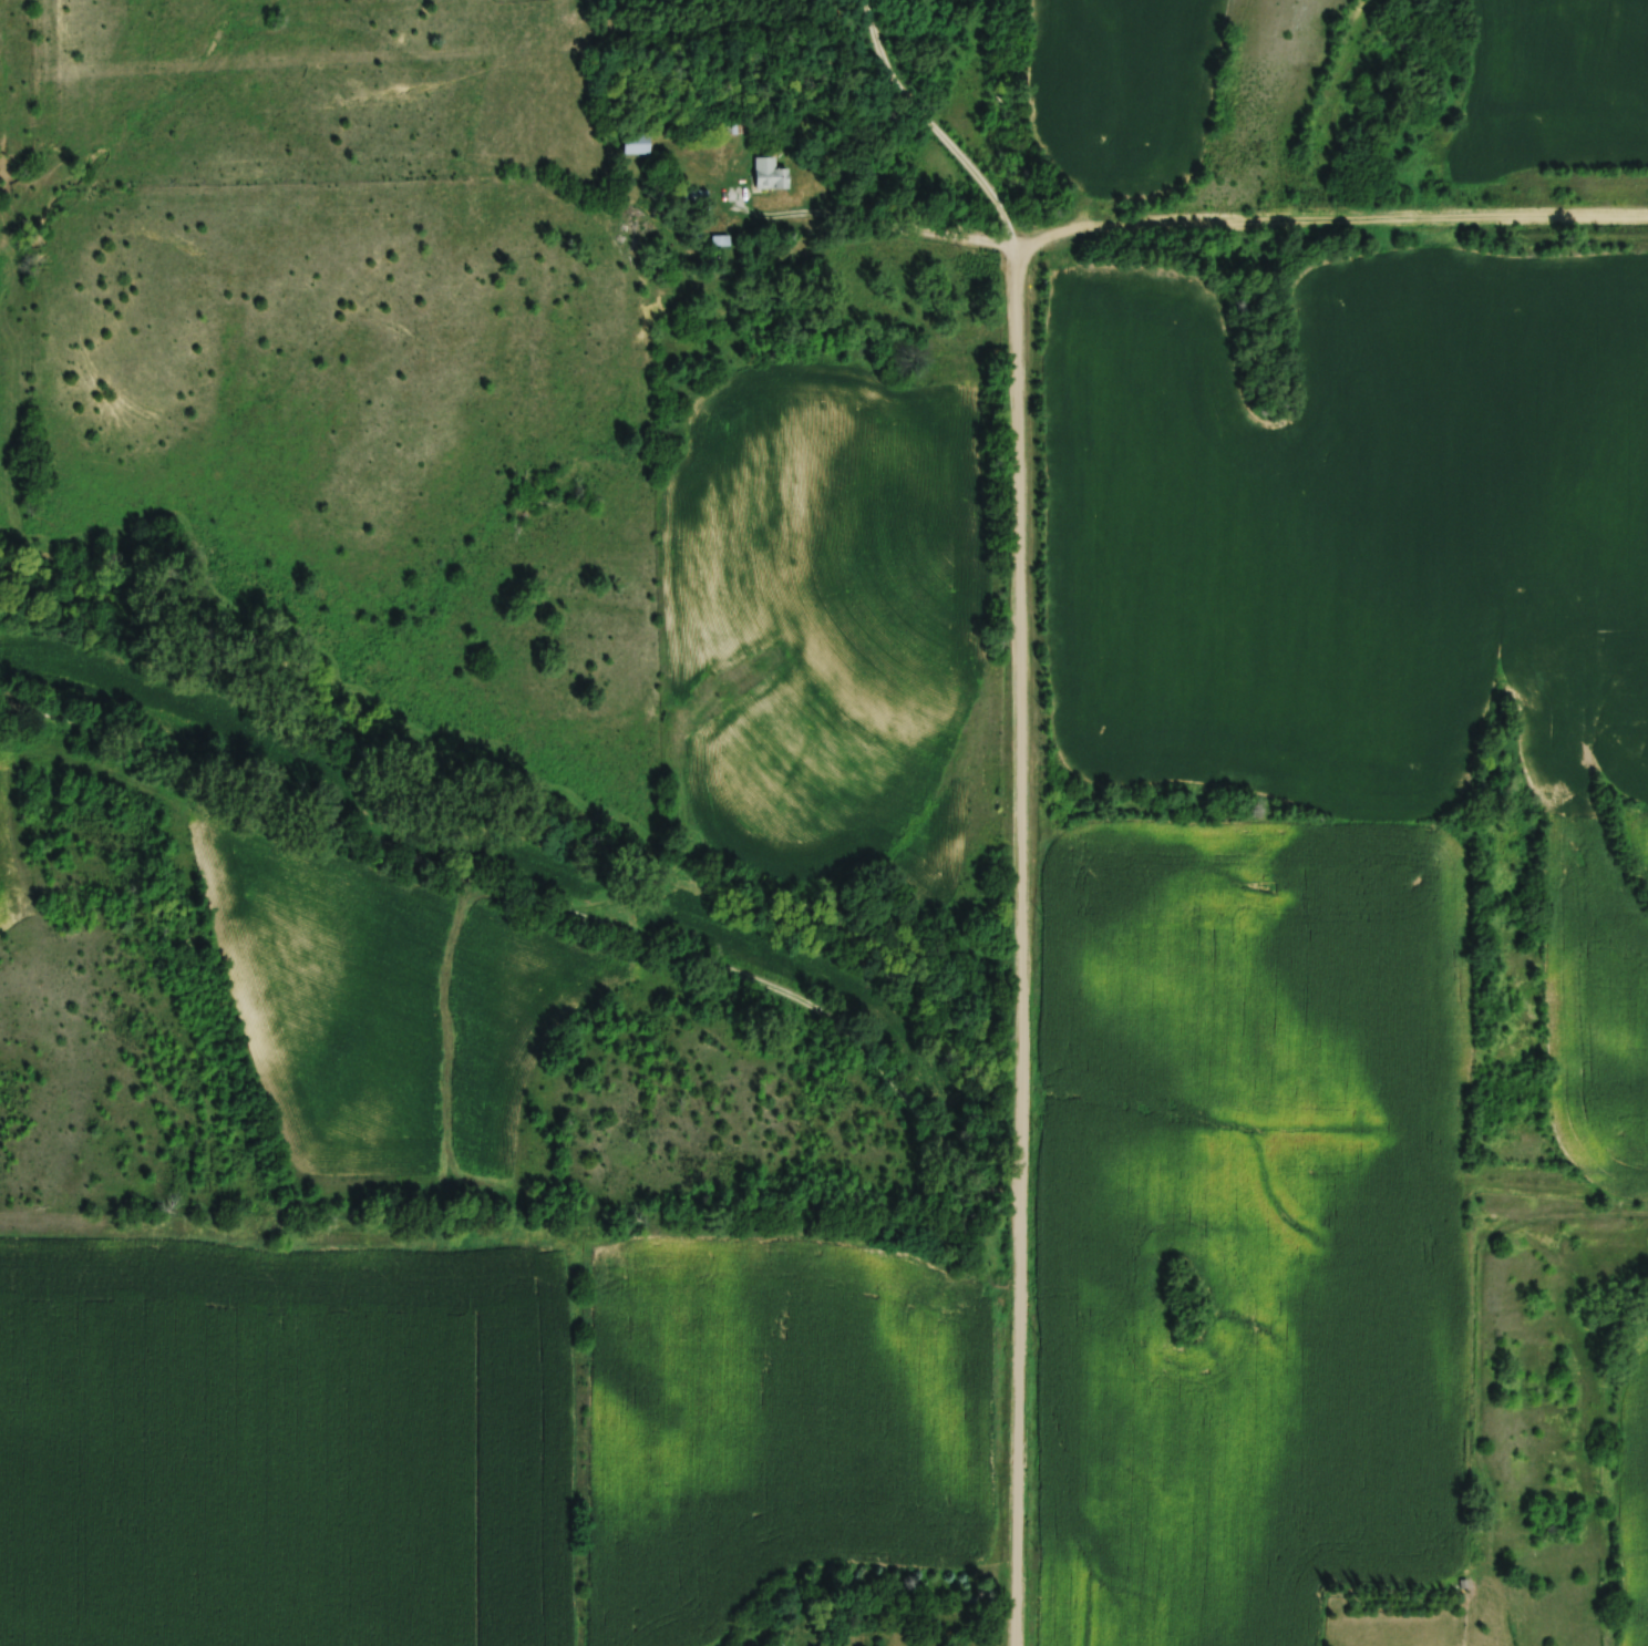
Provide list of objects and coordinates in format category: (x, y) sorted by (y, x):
road: (923, 127)
building: (637, 144)
building: (771, 174)
road: (869, 230)
road: (1008, 631)
road: (538, 906)

